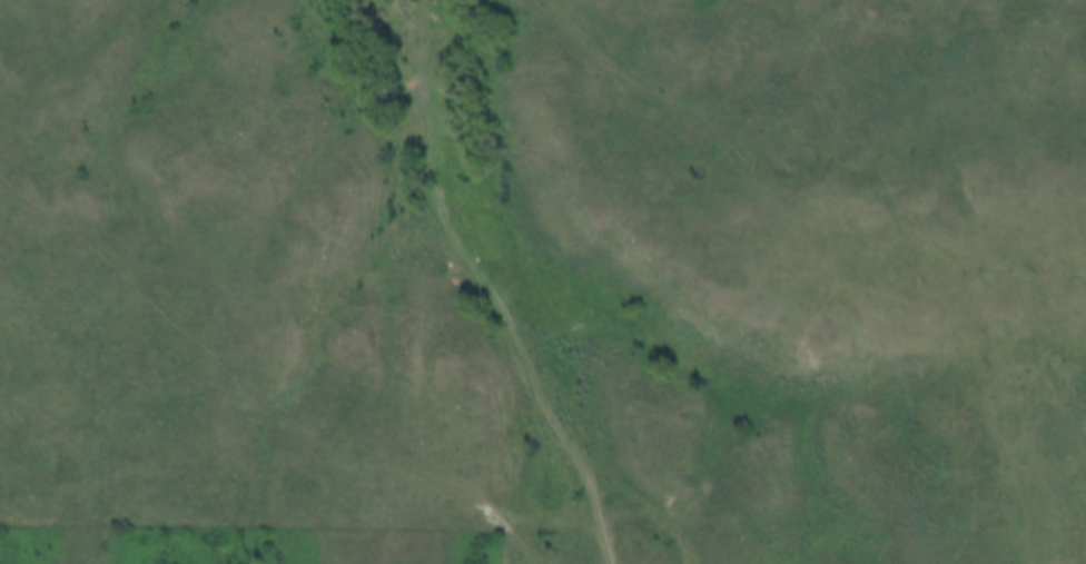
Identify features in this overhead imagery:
road: (491, 286)

